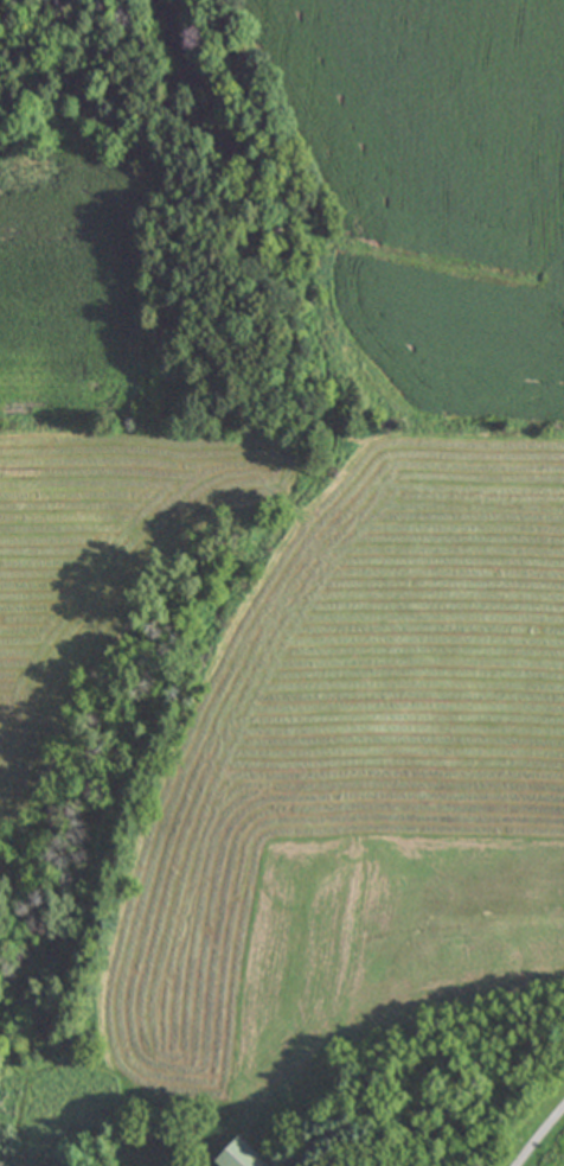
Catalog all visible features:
road: (539, 1134)
building: (232, 1155)

